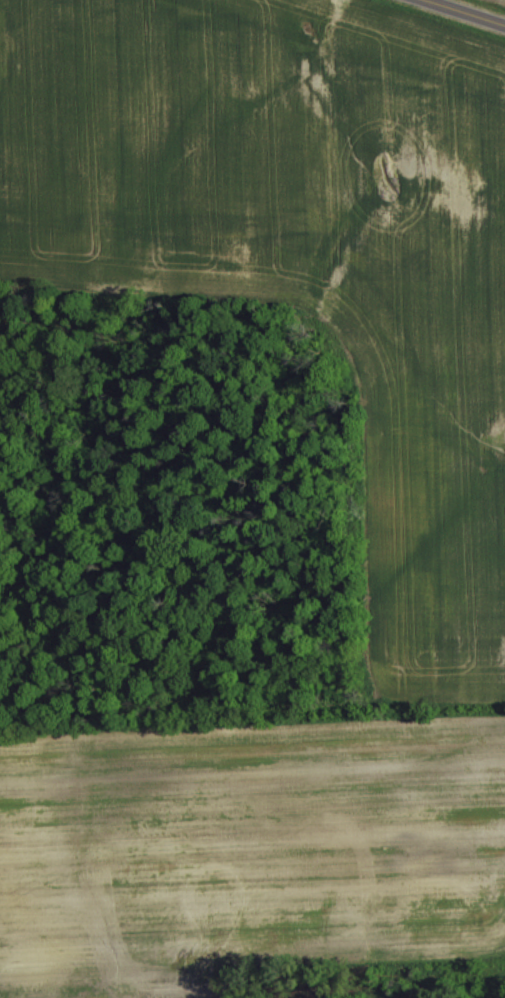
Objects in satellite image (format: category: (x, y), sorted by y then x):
road: (465, 12)

